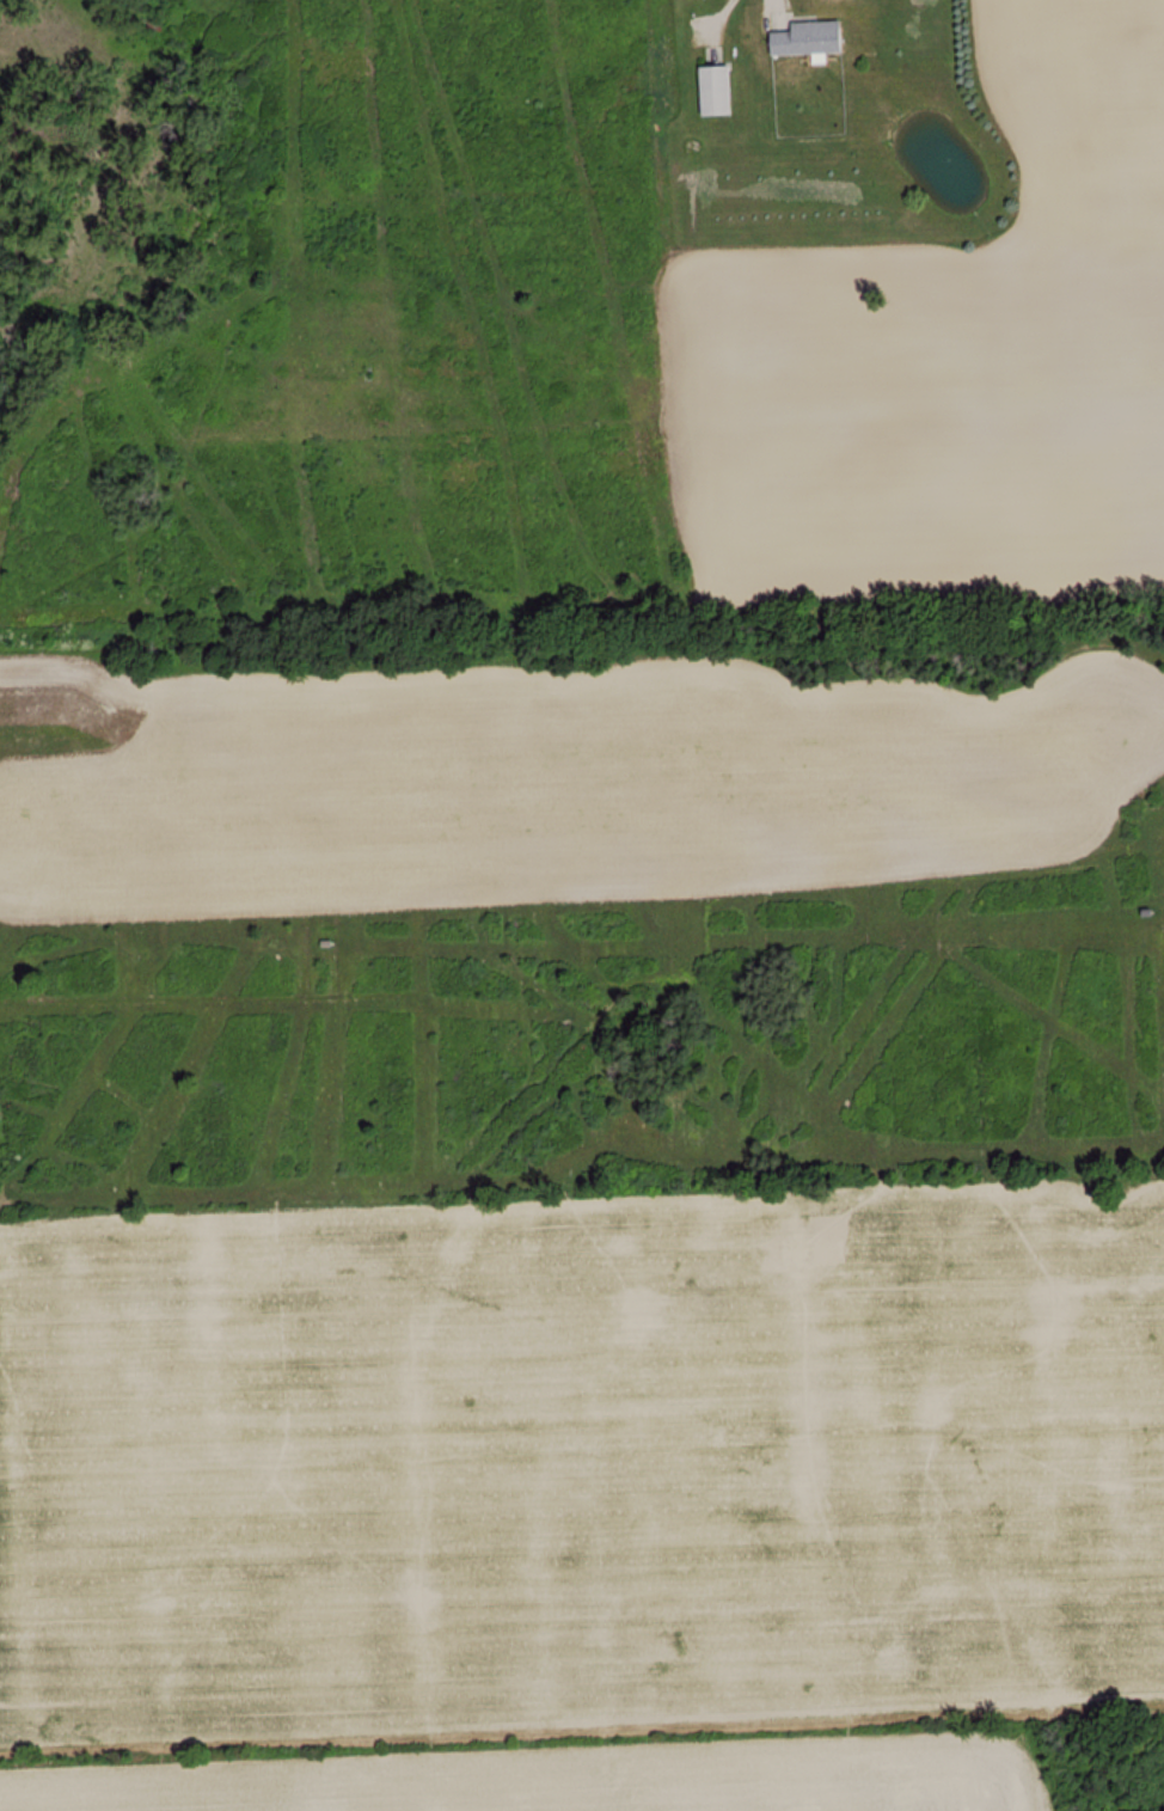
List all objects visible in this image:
building: (808, 38)
building: (713, 91)

